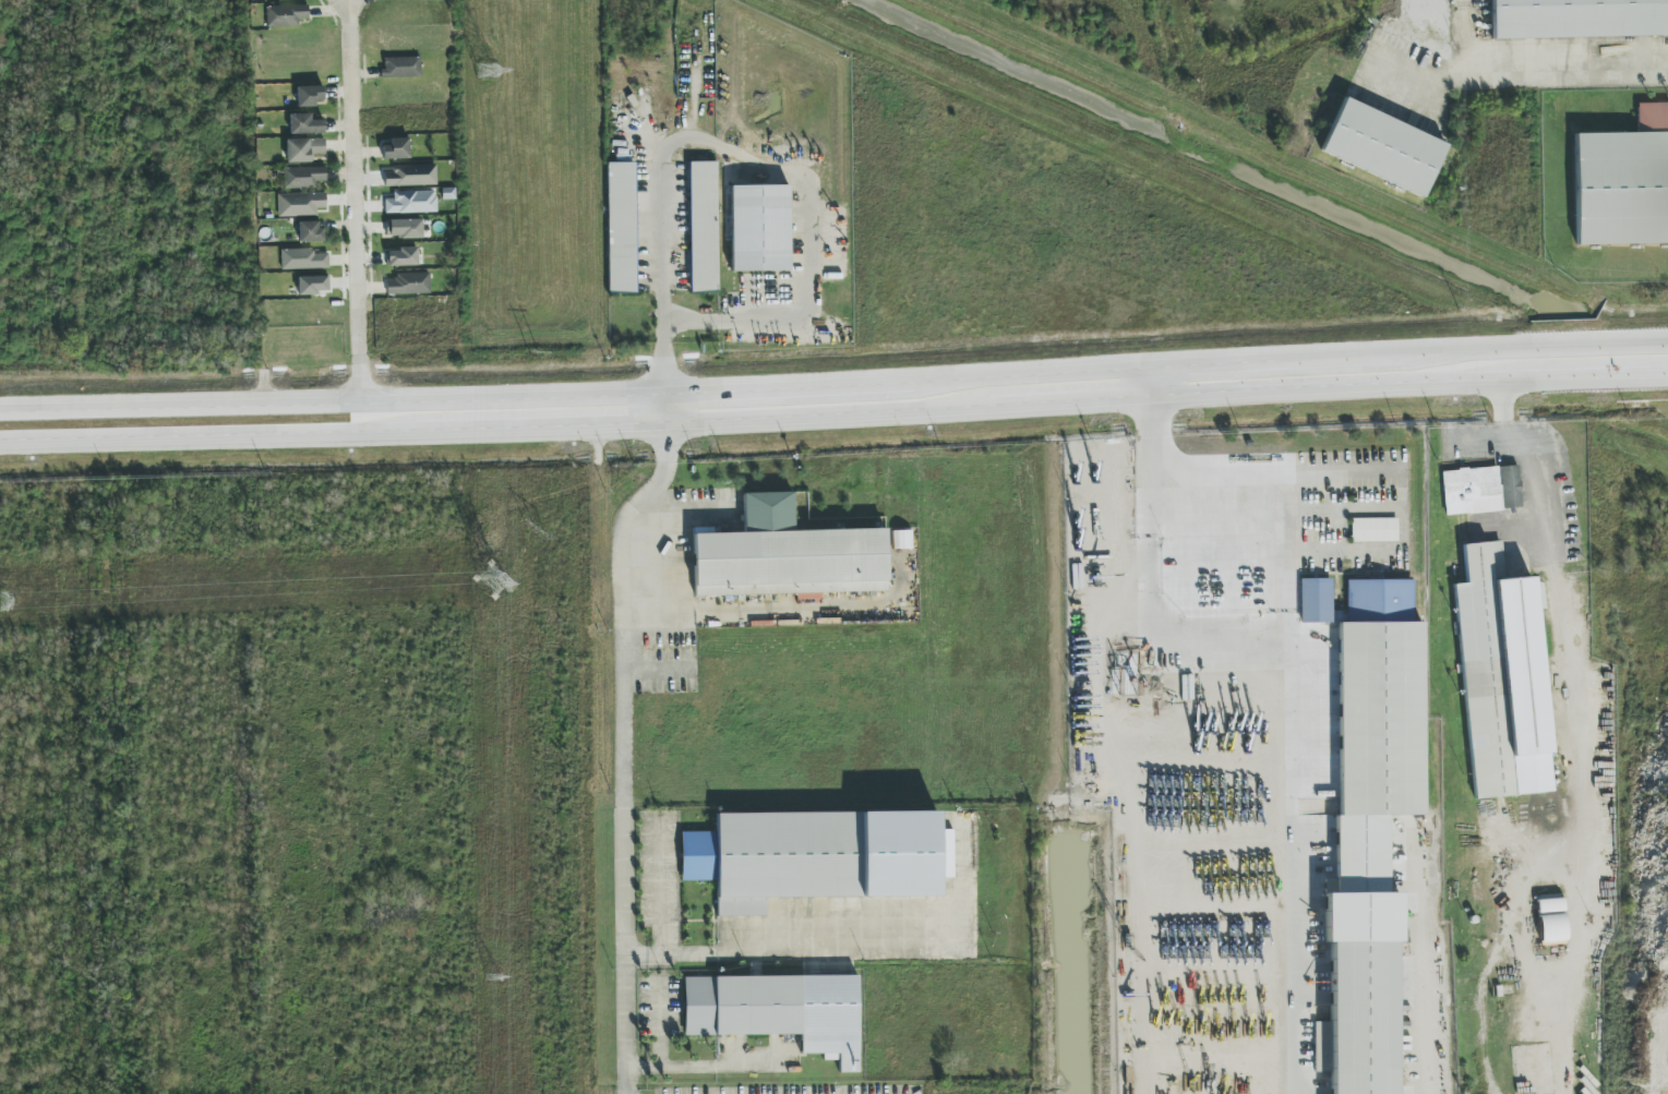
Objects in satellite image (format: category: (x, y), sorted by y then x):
building: (286, 15)
building: (1577, 19)
building: (400, 67)
power tower: (485, 72)
road: (1523, 76)
building: (309, 96)
building: (305, 124)
building: (1382, 147)
building: (303, 149)
building: (396, 149)
road: (755, 164)
building: (411, 176)
building: (303, 177)
building: (1623, 182)
river: (1274, 183)
road: (352, 201)
building: (411, 203)
building: (300, 204)
building: (703, 227)
building: (404, 228)
building: (621, 228)
building: (759, 228)
building: (310, 231)
building: (401, 256)
building: (302, 260)
building: (409, 284)
building: (312, 285)
road: (1599, 344)
road: (1601, 376)
road: (766, 386)
road: (664, 407)
road: (767, 417)
road: (1213, 478)
road: (1357, 479)
building: (1480, 490)
building: (1375, 530)
building: (791, 554)
power tower: (494, 582)
building: (1316, 600)
building: (1501, 677)
road: (1575, 725)
road: (622, 749)
building: (1370, 829)
building: (817, 856)
power tower: (493, 977)
building: (779, 1011)
road: (658, 1024)
road: (711, 1066)

